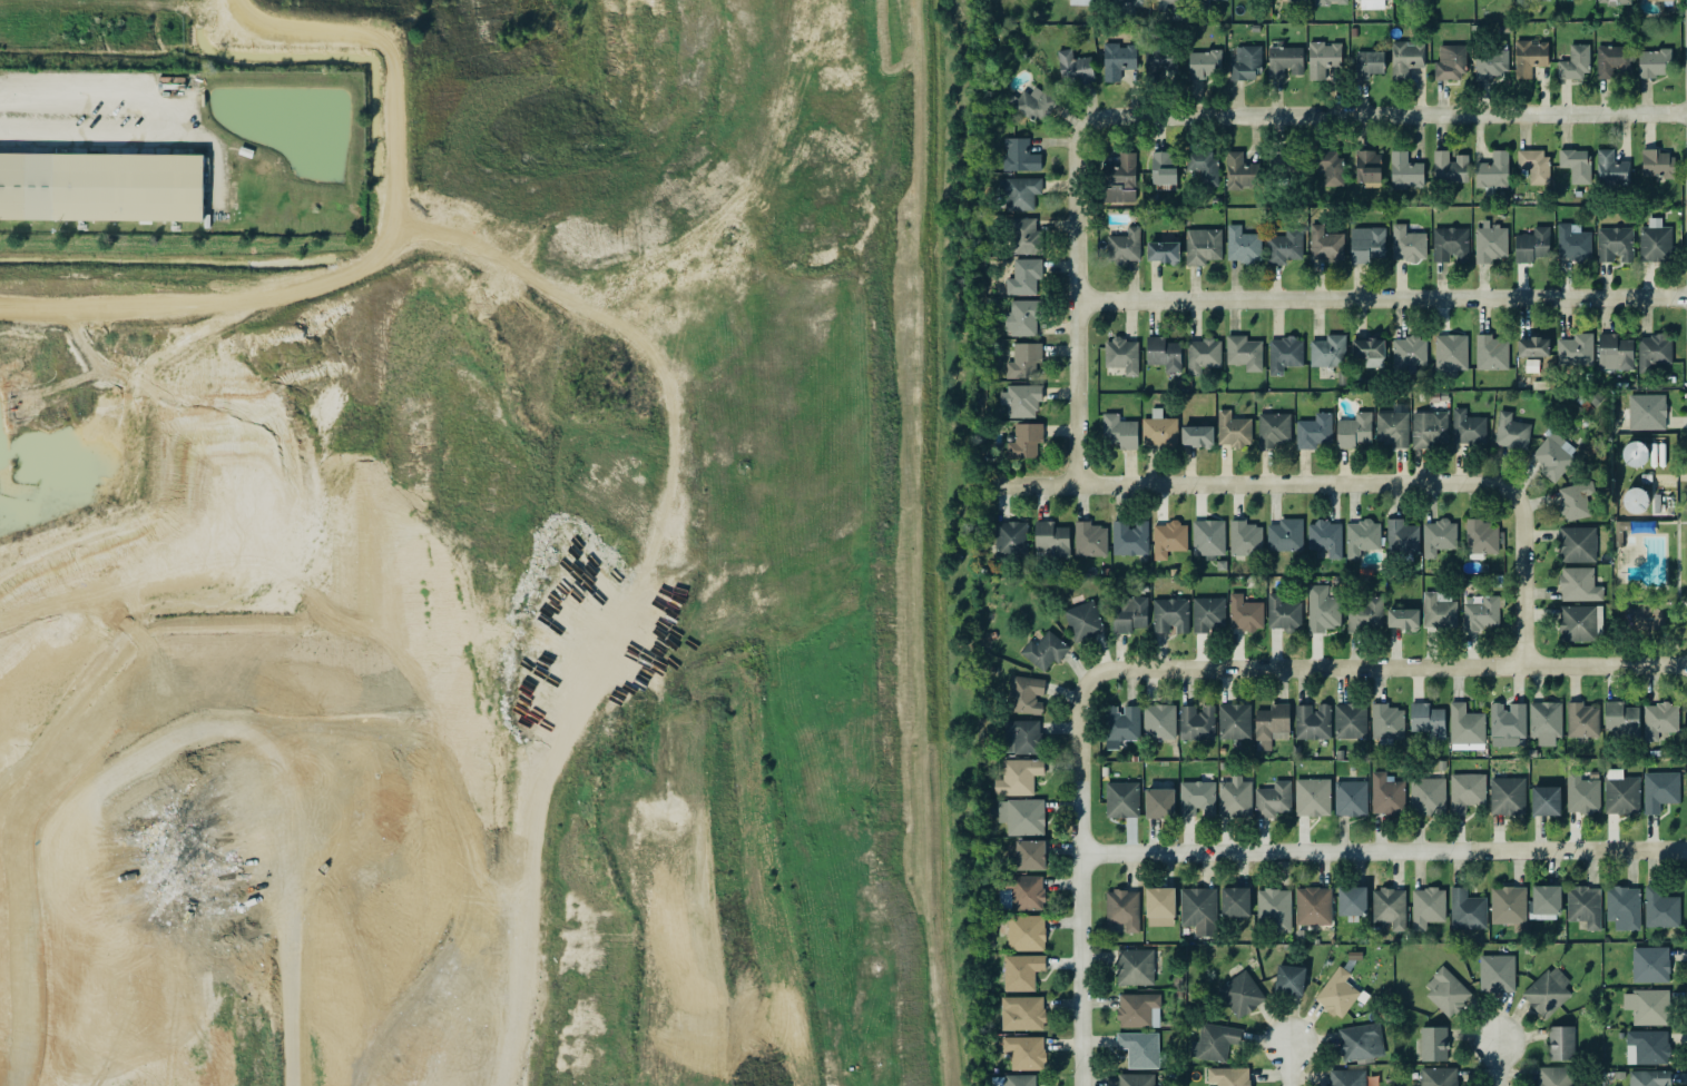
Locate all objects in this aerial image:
building: (1331, 1)
building: (1614, 1)
building: (1130, 2)
building: (1372, 3)
building: (1200, 4)
building: (1169, 6)
building: (1406, 57)
building: (1529, 57)
building: (1161, 58)
building: (1323, 59)
building: (1285, 61)
building: (1612, 61)
building: (1120, 62)
building: (1245, 62)
building: (1370, 62)
building: (1450, 62)
building: (1575, 62)
building: (1652, 62)
building: (1204, 63)
building: (1490, 63)
building: (1076, 67)
building: (1036, 101)
road: (1382, 113)
road: (176, 122)
building: (1020, 156)
building: (1534, 164)
building: (1576, 164)
building: (1658, 164)
building: (1203, 166)
building: (1291, 166)
building: (1164, 167)
building: (1450, 167)
building: (1331, 168)
building: (1611, 168)
building: (1239, 171)
building: (1405, 171)
building: (1493, 171)
building: (1120, 179)
building: (101, 186)
building: (1019, 191)
building: (1024, 235)
building: (1573, 241)
building: (1655, 241)
building: (1490, 243)
building: (1325, 244)
building: (1366, 244)
building: (1408, 244)
building: (1615, 244)
building: (1243, 245)
building: (1451, 245)
building: (1532, 245)
building: (1125, 246)
building: (1203, 246)
building: (1284, 246)
building: (1163, 251)
road: (374, 254)
building: (1024, 277)
road: (1382, 295)
road: (1078, 306)
building: (1021, 317)
building: (1533, 346)
building: (1576, 349)
building: (1327, 351)
building: (1244, 352)
building: (1369, 352)
building: (1410, 352)
building: (1451, 352)
building: (1615, 352)
building: (1652, 352)
building: (1164, 353)
building: (1491, 353)
building: (1122, 354)
building: (1203, 354)
building: (1285, 354)
building: (1024, 361)
road: (1686, 395)
building: (1021, 399)
building: (1647, 412)
building: (1393, 426)
building: (1468, 427)
building: (1429, 428)
building: (1158, 430)
building: (1233, 430)
building: (1274, 430)
building: (1355, 430)
building: (1315, 431)
building: (1119, 432)
building: (1511, 432)
building: (1197, 436)
building: (1024, 441)
building: (1635, 453)
building: (1553, 455)
road: (1669, 476)
road: (1264, 481)
building: (1575, 500)
building: (1636, 500)
road: (1670, 521)
building: (1640, 525)
building: (1618, 530)
building: (1285, 535)
building: (1362, 536)
building: (1402, 536)
building: (1438, 536)
building: (1482, 536)
building: (1130, 537)
building: (1208, 537)
building: (1325, 537)
building: (1011, 539)
building: (1052, 539)
building: (1169, 539)
building: (1245, 539)
building: (1090, 540)
building: (1576, 543)
road: (1677, 543)
landfill: (511, 573)
road: (1524, 581)
building: (1577, 583)
park: (1648, 586)
road: (1648, 603)
building: (1322, 609)
building: (1439, 610)
building: (1129, 613)
building: (1208, 613)
building: (1245, 613)
building: (1283, 613)
building: (1366, 613)
building: (1482, 613)
building: (1170, 615)
building: (1403, 618)
building: (1083, 621)
building: (1579, 622)
building: (1044, 650)
road: (1394, 665)
building: (1026, 694)
road: (108, 698)
building: (1582, 719)
building: (1621, 719)
building: (1428, 720)
building: (1507, 720)
building: (1659, 720)
building: (1159, 721)
building: (1234, 721)
building: (1313, 721)
building: (1351, 721)
building: (1544, 721)
building: (1197, 722)
building: (1386, 722)
building: (1120, 724)
building: (1272, 724)
building: (1465, 725)
building: (1021, 735)
building: (1019, 777)
building: (1659, 790)
building: (1465, 791)
building: (1621, 792)
building: (1582, 793)
building: (1386, 794)
building: (1235, 796)
building: (1428, 796)
building: (1507, 796)
building: (1312, 797)
building: (1197, 798)
building: (1351, 798)
building: (1122, 799)
building: (1273, 799)
building: (1546, 800)
building: (1159, 802)
building: (1021, 816)
road: (1383, 849)
building: (1027, 855)
road: (1079, 872)
building: (1021, 892)
building: (1352, 900)
building: (1160, 901)
building: (1235, 901)
building: (1547, 901)
building: (1508, 905)
building: (1313, 906)
building: (1585, 906)
building: (1428, 907)
building: (1624, 907)
building: (1274, 908)
building: (1389, 908)
building: (1660, 908)
building: (1122, 909)
building: (1198, 909)
building: (1467, 909)
building: (1027, 932)
building: (1650, 964)
road: (316, 967)
building: (1135, 967)
building: (1021, 971)
building: (1497, 974)
building: (1289, 979)
building: (1446, 990)
building: (1548, 991)
building: (1337, 993)
building: (1240, 994)
building: (1647, 1006)
building: (1138, 1009)
building: (1021, 1013)
building: (1214, 1041)
building: (1361, 1043)
building: (1561, 1043)
building: (1433, 1044)
building: (1647, 1047)
building: (1139, 1048)
building: (1024, 1052)
road: (1503, 1064)
road: (1293, 1065)
building: (1229, 1076)
building: (1439, 1076)
building: (1554, 1076)
building: (1346, 1077)
building: (1649, 1078)
building: (1136, 1079)
building: (1013, 1080)

